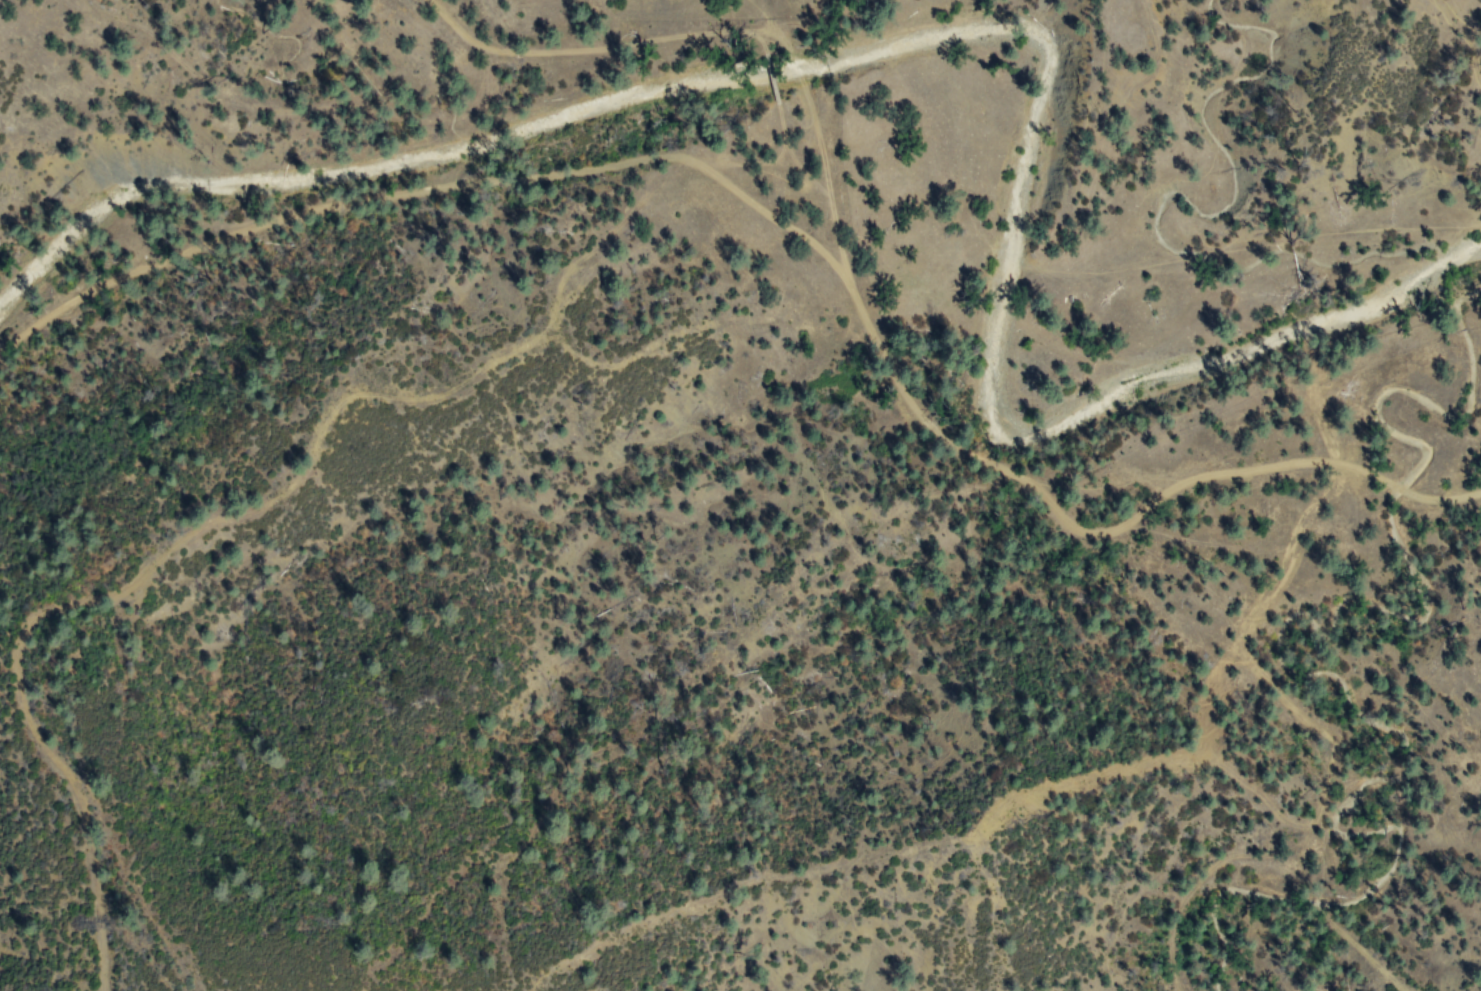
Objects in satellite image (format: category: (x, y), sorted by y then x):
road: (724, 29)
road: (415, 209)
river: (993, 328)
road: (1185, 493)

